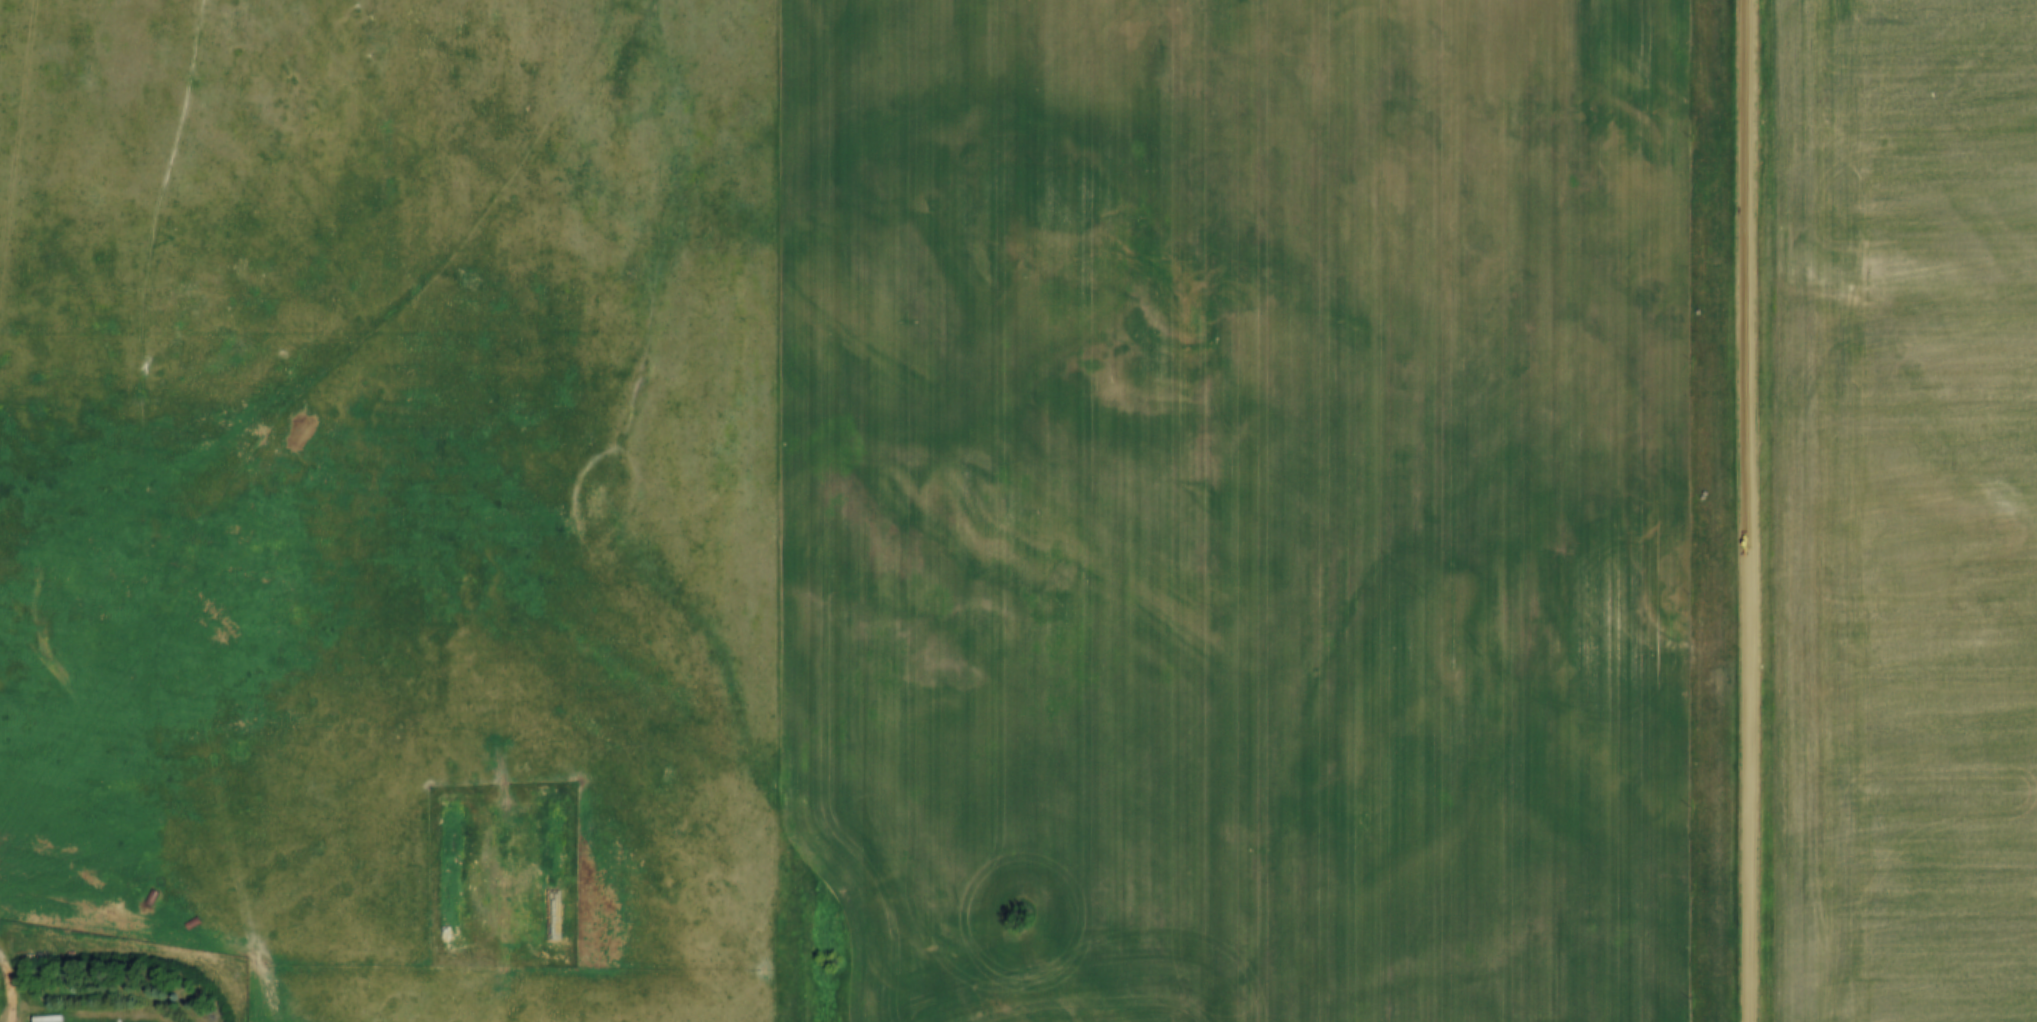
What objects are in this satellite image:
road: (1749, 510)
building: (40, 1019)

